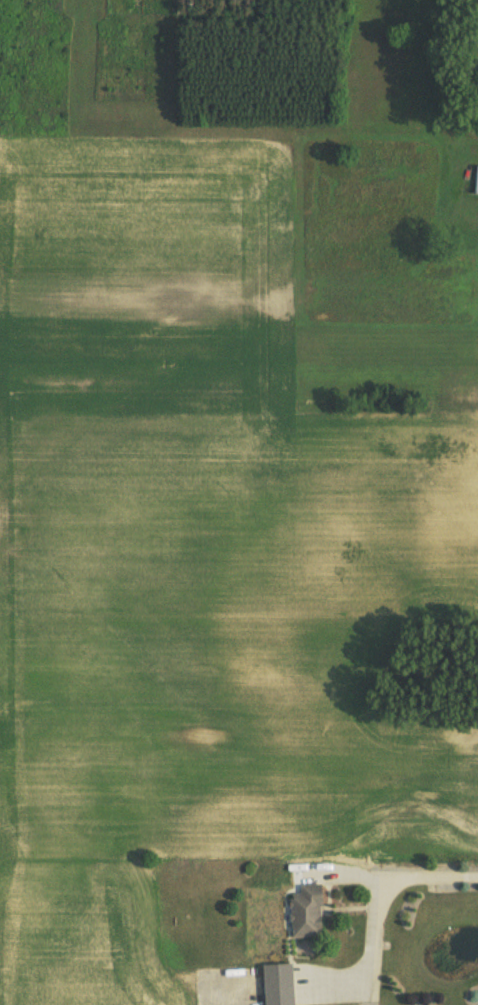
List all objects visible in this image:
building: (477, 184)
road: (397, 883)
building: (312, 912)
building: (283, 985)

